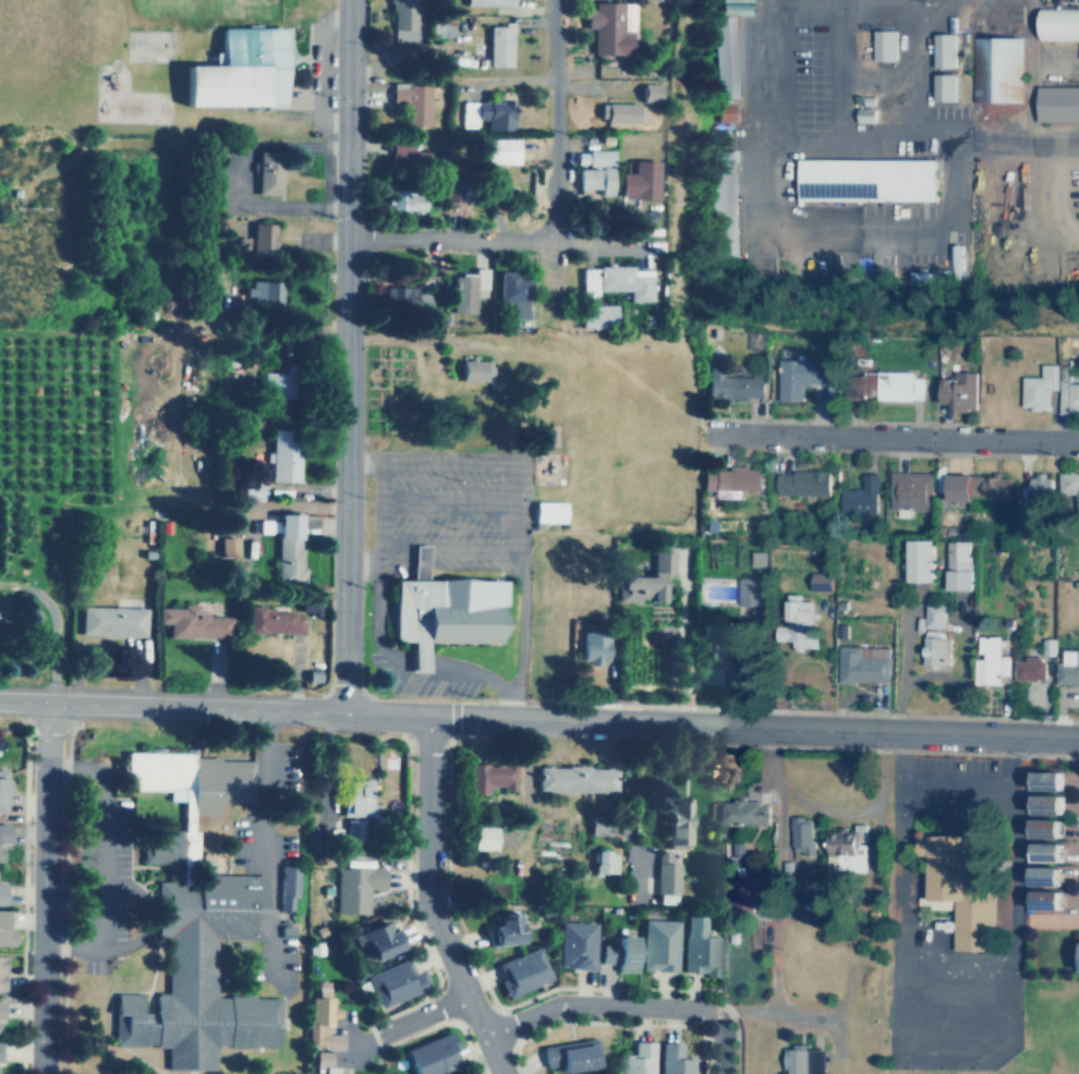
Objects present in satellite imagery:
building: (736, 0)
building: (485, 2)
building: (735, 8)
building: (399, 15)
building: (1057, 22)
building: (439, 27)
building: (604, 28)
building: (882, 45)
building: (496, 46)
building: (941, 49)
building: (723, 56)
building: (995, 69)
road: (836, 70)
building: (237, 72)
road: (450, 78)
building: (942, 87)
building: (642, 94)
building: (862, 99)
building: (410, 102)
building: (1056, 102)
building: (726, 112)
building: (611, 114)
building: (863, 114)
building: (484, 115)
road: (553, 120)
road: (864, 139)
building: (492, 152)
building: (404, 158)
building: (266, 172)
building: (590, 175)
building: (863, 179)
building: (632, 183)
road: (1043, 200)
building: (402, 202)
building: (722, 202)
road: (858, 234)
building: (260, 240)
road: (478, 240)
building: (610, 279)
building: (464, 290)
building: (510, 291)
building: (254, 295)
building: (404, 296)
building: (592, 315)
road: (597, 353)
road: (345, 355)
building: (229, 368)
building: (475, 370)
building: (798, 377)
building: (277, 386)
building: (732, 386)
building: (882, 386)
building: (1039, 387)
building: (958, 391)
building: (1068, 395)
road: (892, 438)
building: (281, 454)
road: (446, 460)
road: (609, 465)
building: (801, 483)
building: (1069, 486)
building: (977, 487)
building: (909, 490)
building: (1039, 490)
building: (860, 497)
road: (445, 502)
building: (548, 513)
road: (380, 536)
building: (283, 545)
building: (225, 548)
road: (445, 551)
building: (919, 561)
building: (421, 562)
road: (363, 564)
building: (958, 565)
road: (523, 576)
building: (821, 581)
building: (638, 586)
building: (750, 591)
building: (448, 611)
building: (933, 615)
building: (110, 621)
building: (272, 621)
building: (190, 622)
building: (798, 623)
road: (57, 625)
building: (720, 645)
building: (597, 647)
building: (933, 650)
building: (420, 657)
road: (435, 660)
building: (990, 661)
building: (862, 664)
building: (1068, 668)
building: (1029, 669)
building: (710, 674)
road: (504, 688)
road: (711, 709)
road: (422, 715)
road: (961, 733)
road: (538, 737)
building: (490, 776)
building: (577, 779)
building: (1045, 780)
road: (955, 781)
building: (3, 788)
building: (355, 796)
building: (1046, 804)
building: (744, 813)
building: (678, 822)
building: (1044, 828)
building: (354, 829)
building: (801, 833)
building: (2, 838)
building: (483, 838)
road: (265, 845)
building: (847, 847)
building: (1045, 851)
road: (95, 857)
road: (898, 859)
building: (605, 862)
road: (1014, 868)
building: (666, 872)
building: (959, 881)
building: (288, 886)
building: (355, 888)
road: (47, 889)
building: (1, 893)
road: (26, 896)
road: (65, 898)
road: (427, 902)
road: (457, 911)
road: (411, 913)
building: (191, 920)
building: (5, 929)
building: (504, 929)
building: (378, 939)
road: (920, 942)
building: (577, 944)
building: (659, 944)
building: (698, 948)
park: (1048, 952)
building: (619, 953)
road: (995, 955)
building: (1, 972)
building: (522, 972)
building: (395, 983)
road: (647, 990)
road: (628, 1005)
building: (0, 1009)
road: (404, 1009)
road: (933, 1010)
road: (975, 1012)
road: (893, 1013)
road: (421, 1016)
building: (323, 1018)
road: (1016, 1020)
road: (629, 1023)
road: (416, 1033)
park: (1038, 1033)
building: (0, 1051)
building: (432, 1054)
building: (571, 1054)
building: (639, 1059)
building: (675, 1059)
building: (802, 1060)
building: (325, 1061)

